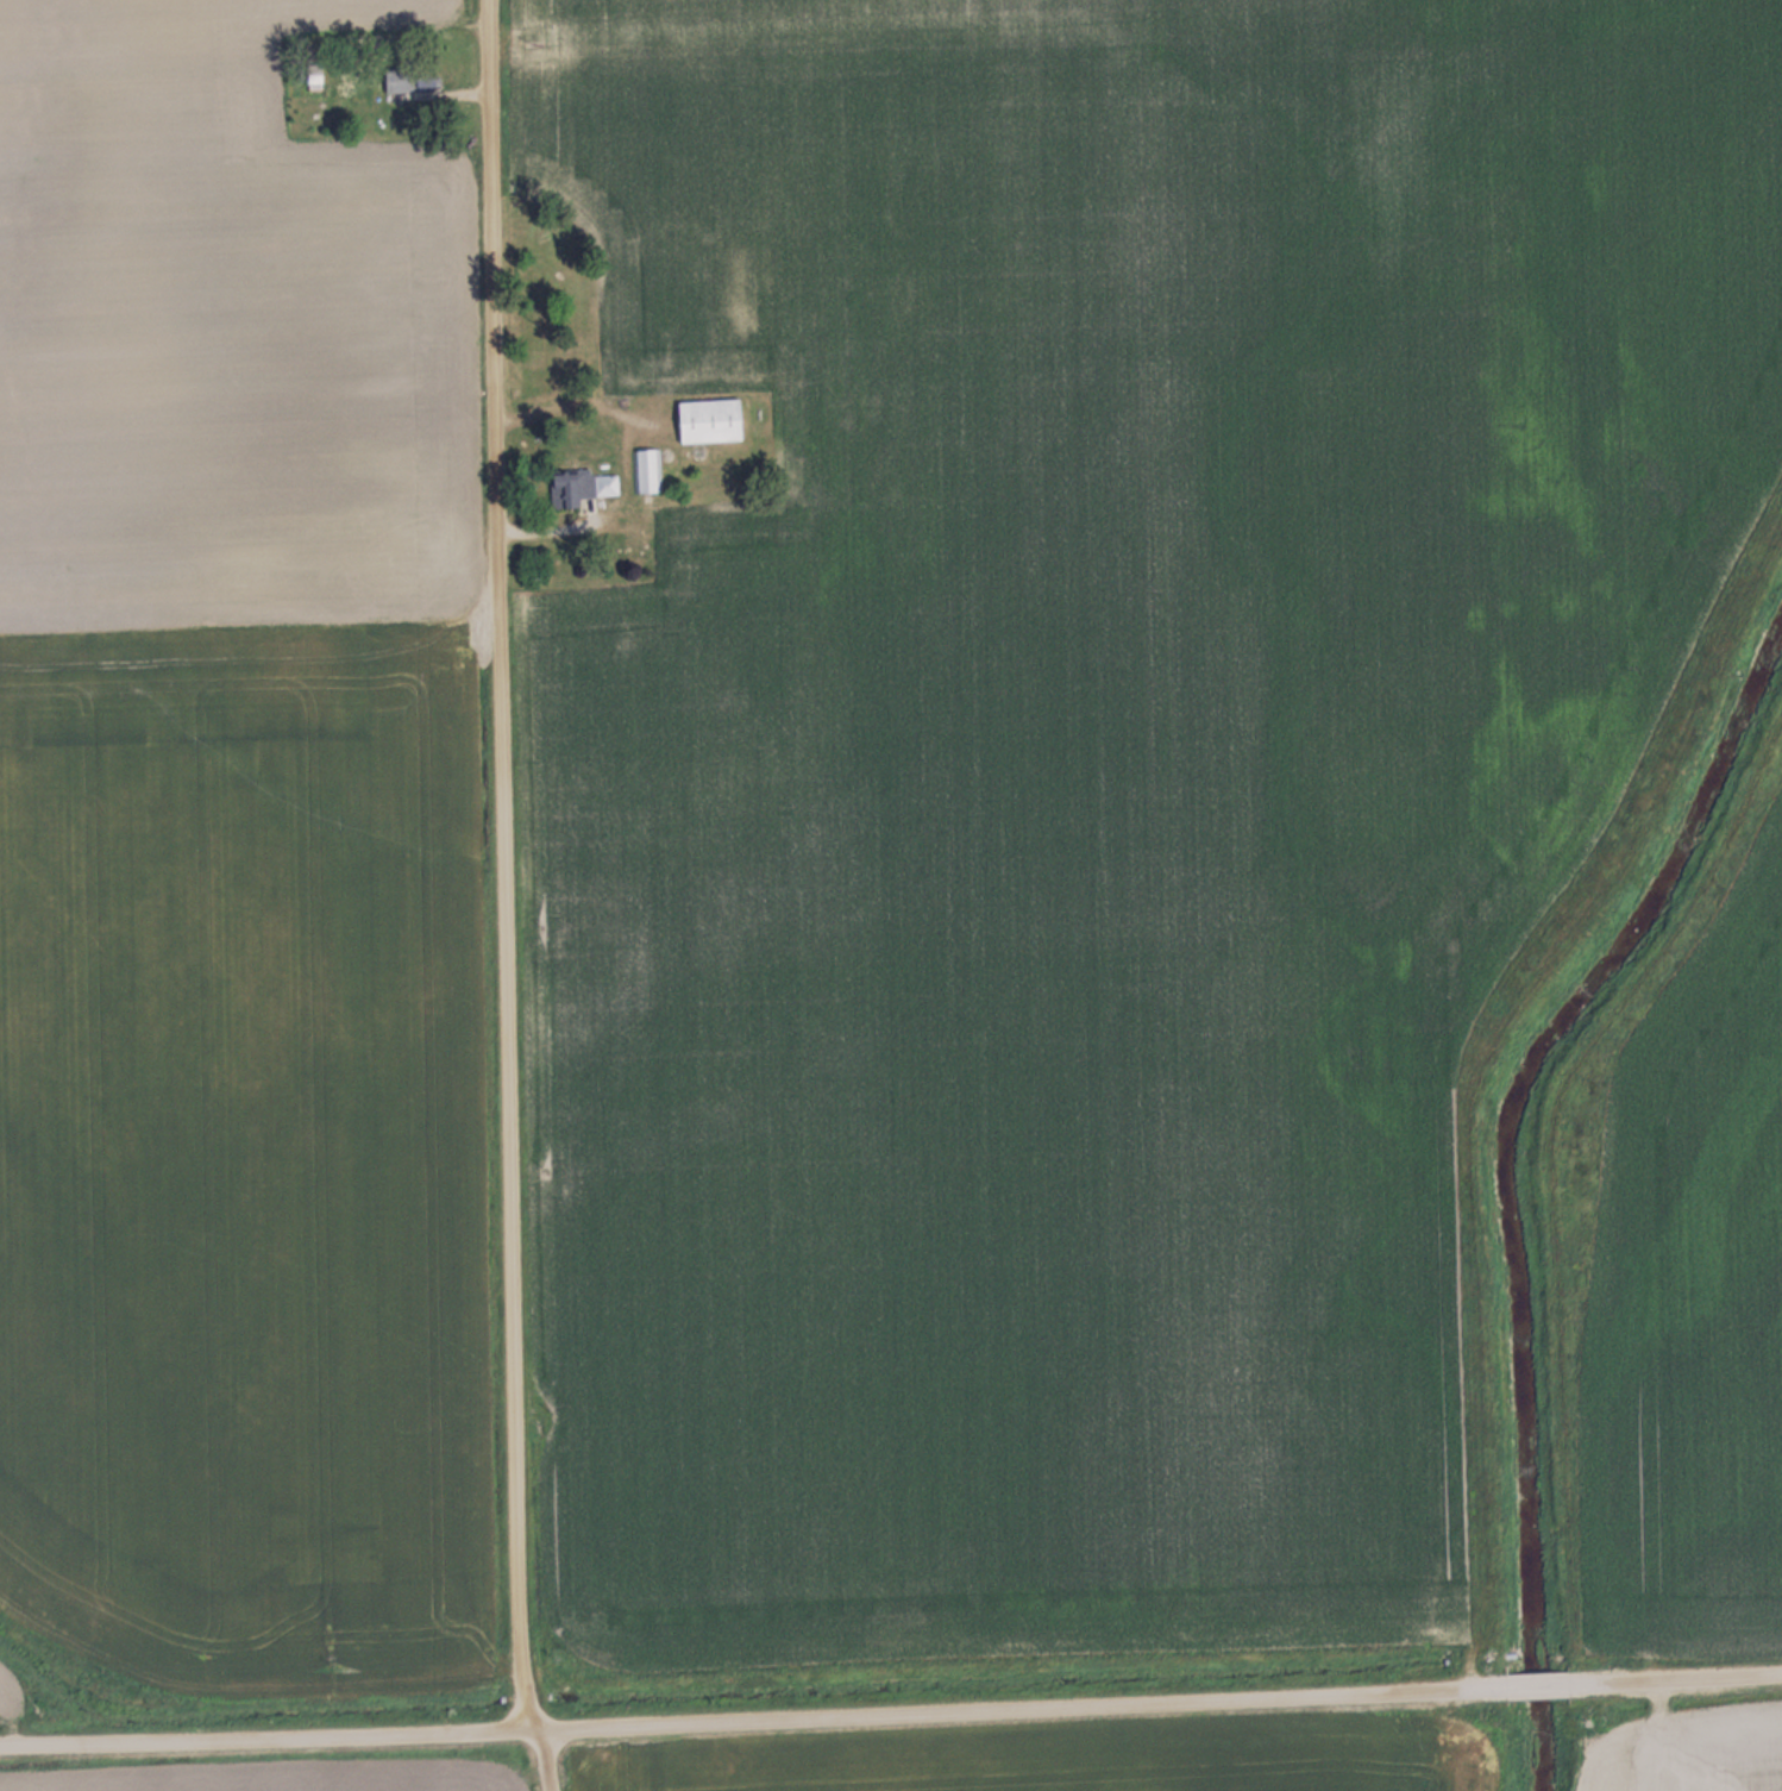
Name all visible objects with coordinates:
building: (409, 77)
building: (707, 420)
building: (647, 469)
building: (581, 486)
road: (503, 897)
road: (1674, 1677)
road: (1537, 1684)
road: (753, 1721)

